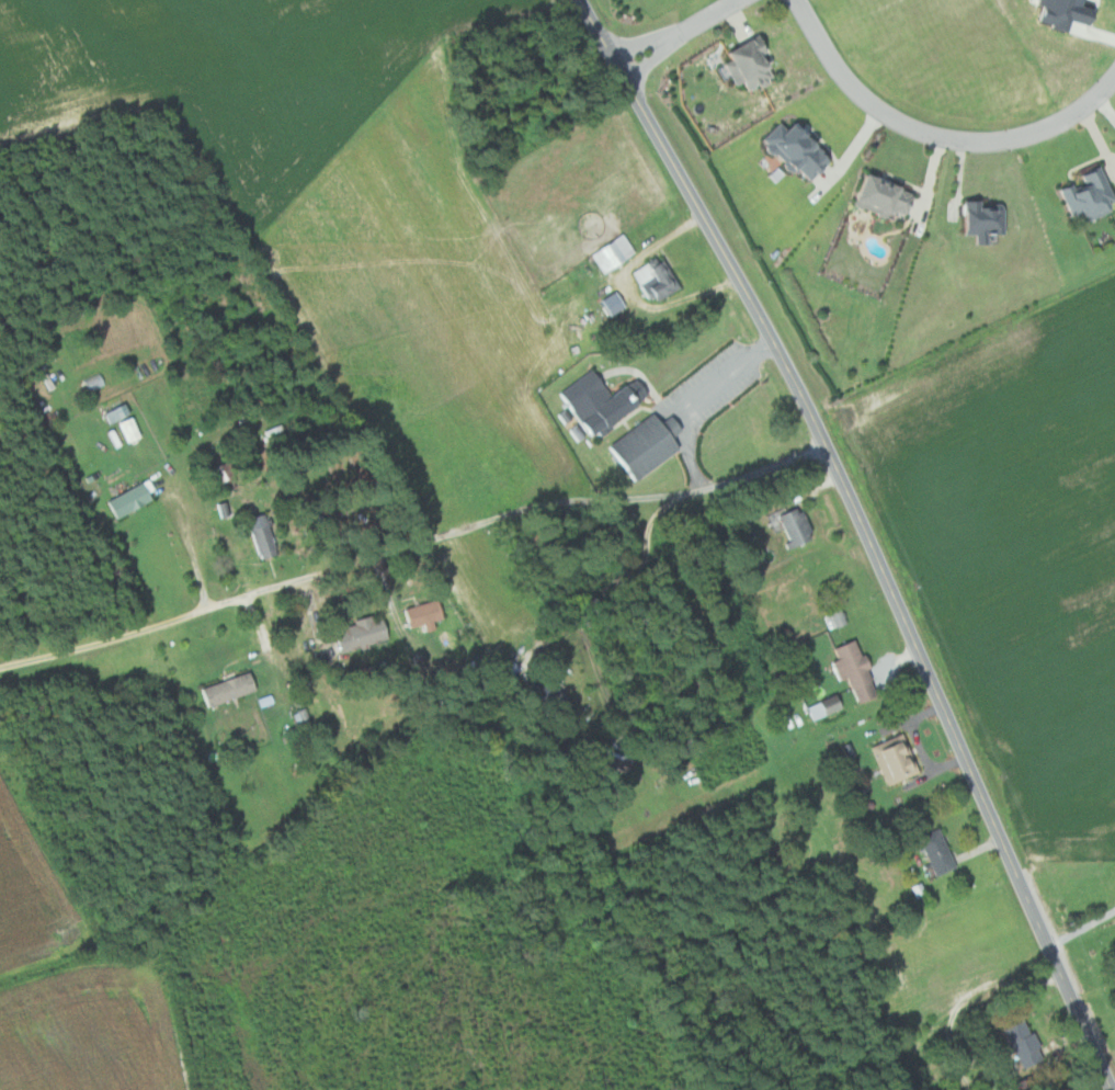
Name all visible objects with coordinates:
road: (679, 34)
building: (753, 64)
road: (935, 134)
building: (787, 149)
building: (1085, 195)
building: (880, 197)
building: (980, 217)
road: (706, 219)
building: (615, 253)
building: (659, 279)
road: (697, 394)
building: (602, 401)
building: (121, 413)
building: (136, 428)
building: (646, 446)
building: (231, 475)
building: (133, 499)
building: (797, 525)
building: (266, 535)
road: (192, 549)
road: (412, 549)
road: (634, 571)
building: (428, 614)
building: (365, 634)
building: (856, 669)
building: (232, 689)
building: (548, 695)
building: (826, 706)
building: (896, 758)
road: (969, 765)
building: (940, 850)
road: (1084, 921)
building: (1027, 1043)

